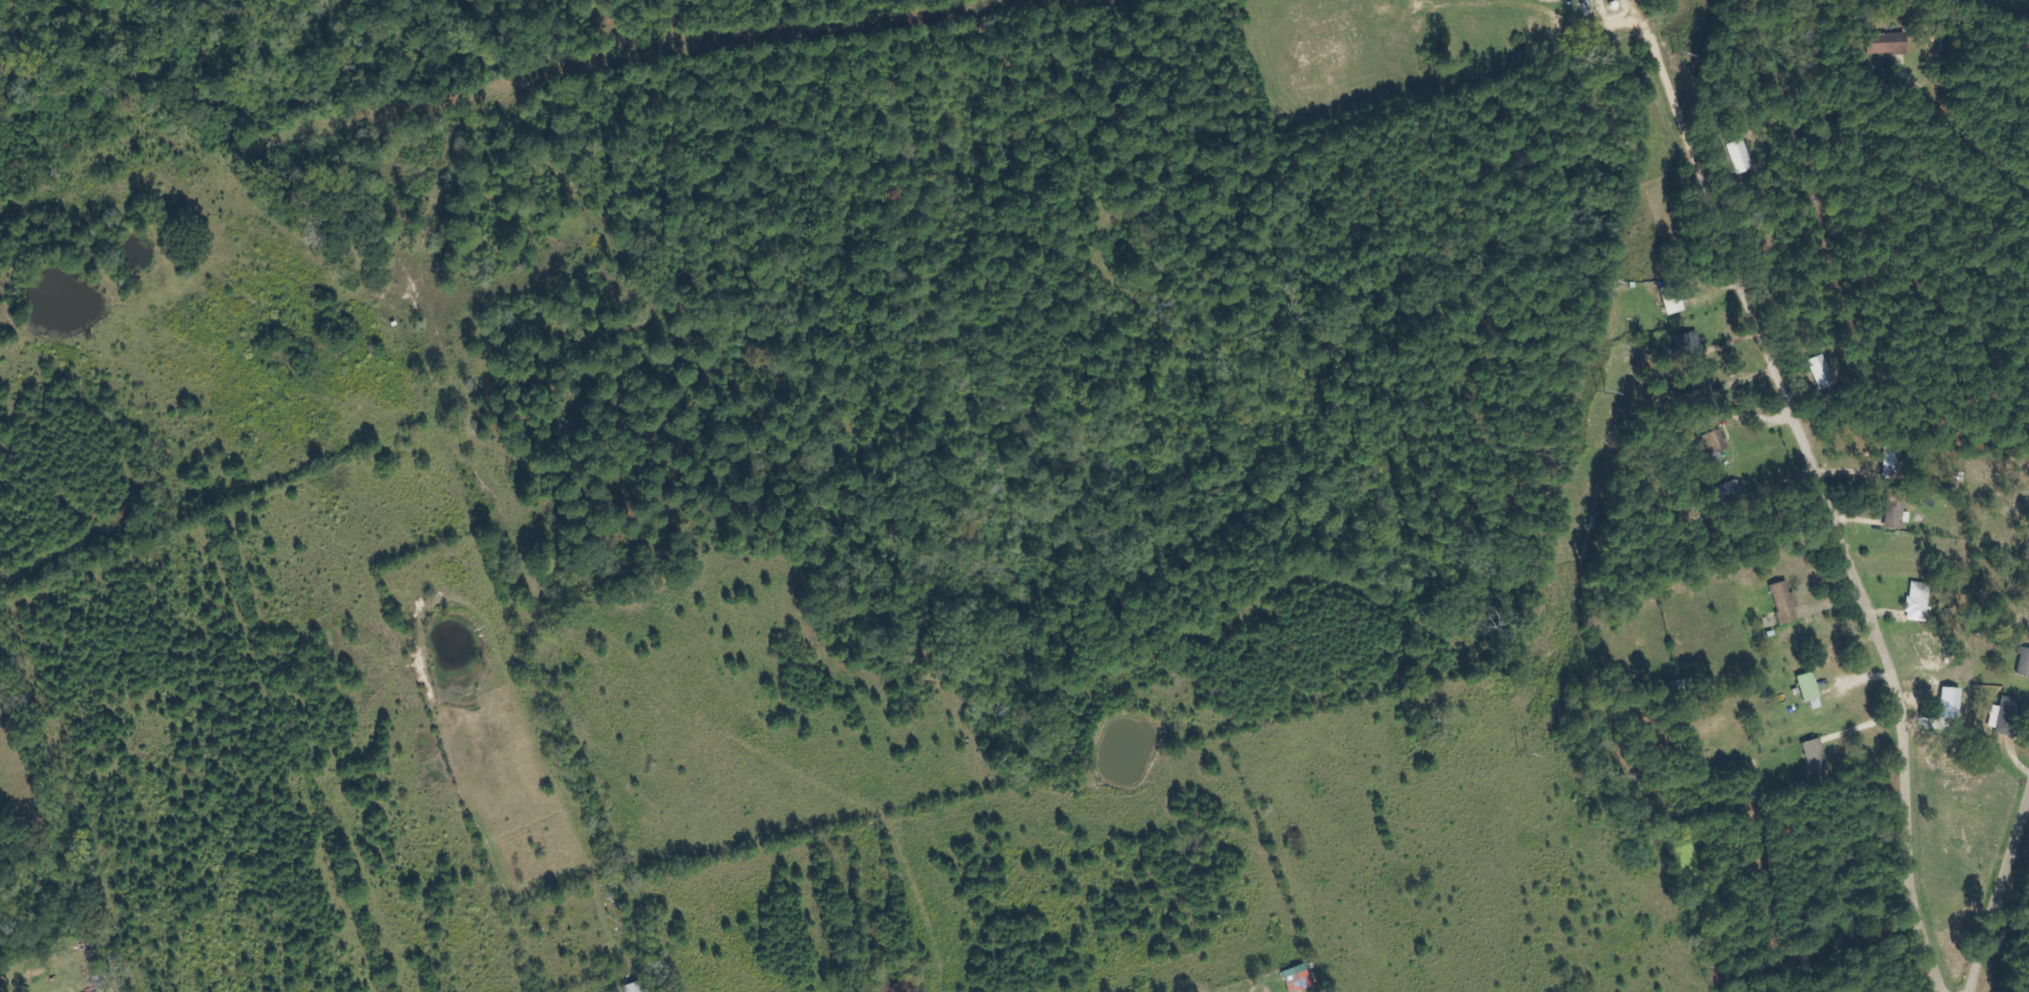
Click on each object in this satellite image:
building: (1895, 42)
power tower: (1675, 52)
building: (1743, 156)
building: (1690, 342)
building: (1825, 372)
power tower: (1602, 391)
building: (1711, 444)
building: (1729, 492)
road: (1822, 497)
building: (1896, 513)
building: (1785, 602)
building: (1919, 602)
building: (2024, 663)
building: (1809, 687)
building: (2002, 720)
building: (1816, 753)
power tower: (1522, 754)
road: (1998, 893)
building: (1298, 979)
building: (634, 987)

